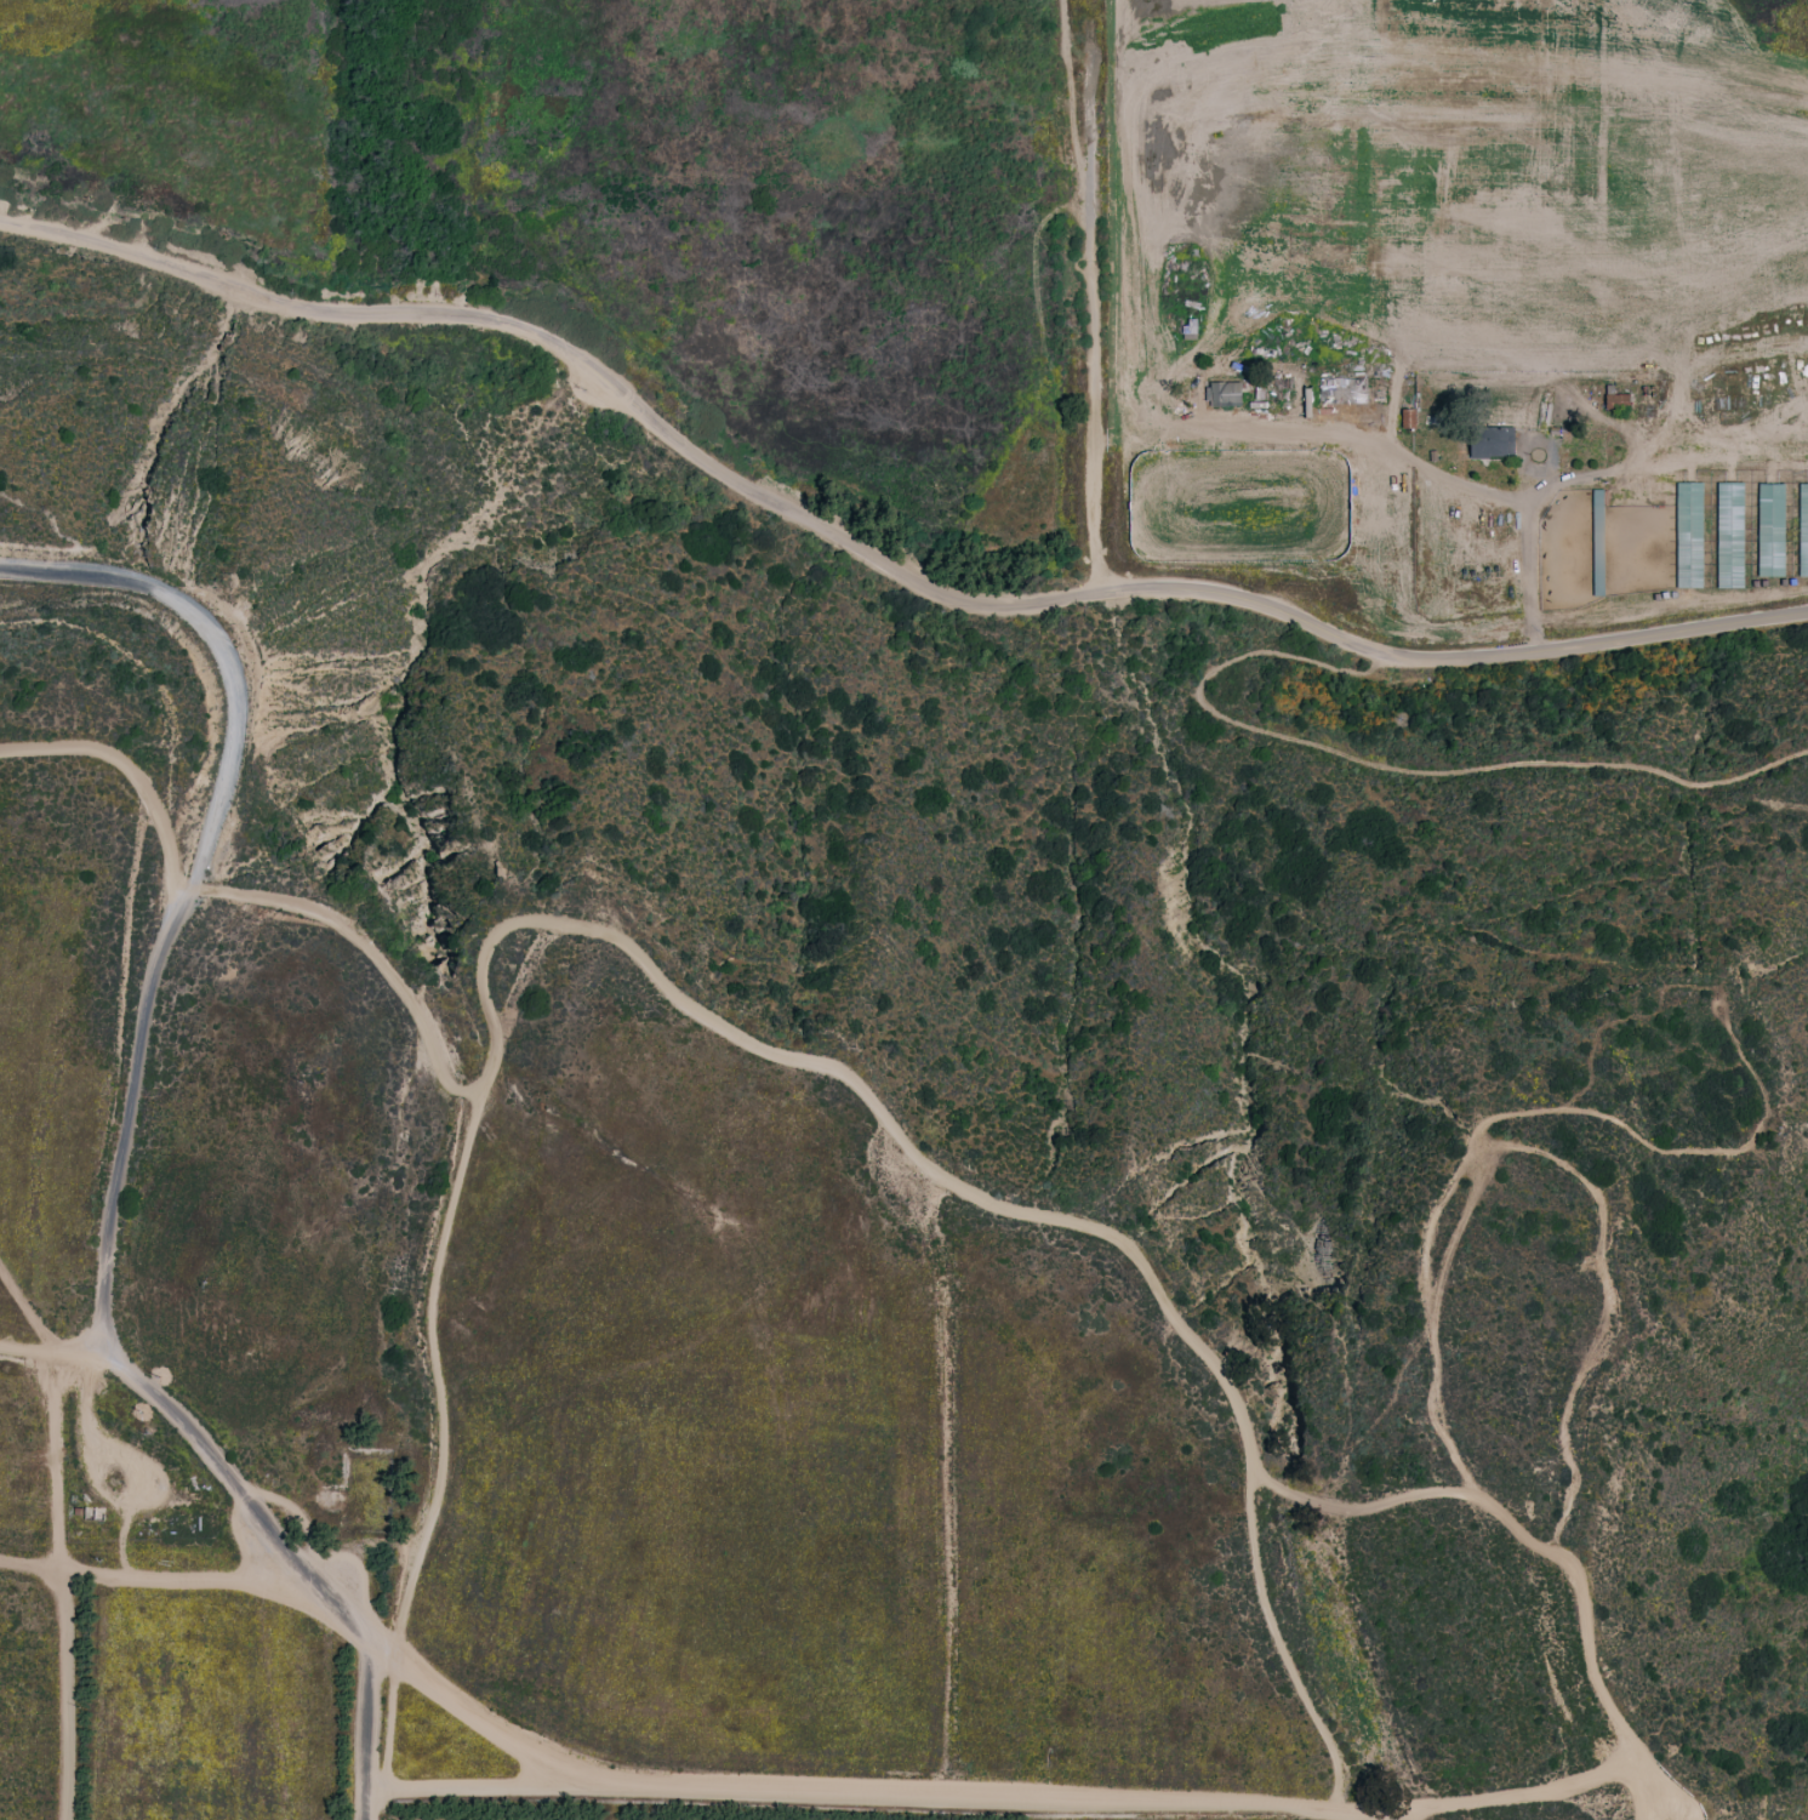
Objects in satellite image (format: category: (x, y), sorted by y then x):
road: (1086, 296)
building: (1194, 331)
building: (1215, 342)
building: (1357, 392)
building: (1228, 394)
building: (1620, 401)
building: (1312, 404)
building: (1411, 420)
building: (1495, 443)
road: (1624, 453)
road: (1418, 462)
building: (1174, 479)
building: (1249, 495)
building: (1348, 514)
building: (1772, 529)
building: (1803, 530)
building: (1432, 534)
building: (1730, 534)
building: (1689, 535)
building: (1598, 542)
road: (876, 549)
road: (1387, 766)
road: (198, 880)
road: (1550, 1152)
road: (22, 1311)
road: (429, 1375)
building: (95, 1512)
road: (1256, 1516)
road: (155, 1575)
road: (58, 1582)
road: (1586, 1647)
road: (371, 1729)
road: (1643, 1795)
road: (1660, 1795)

